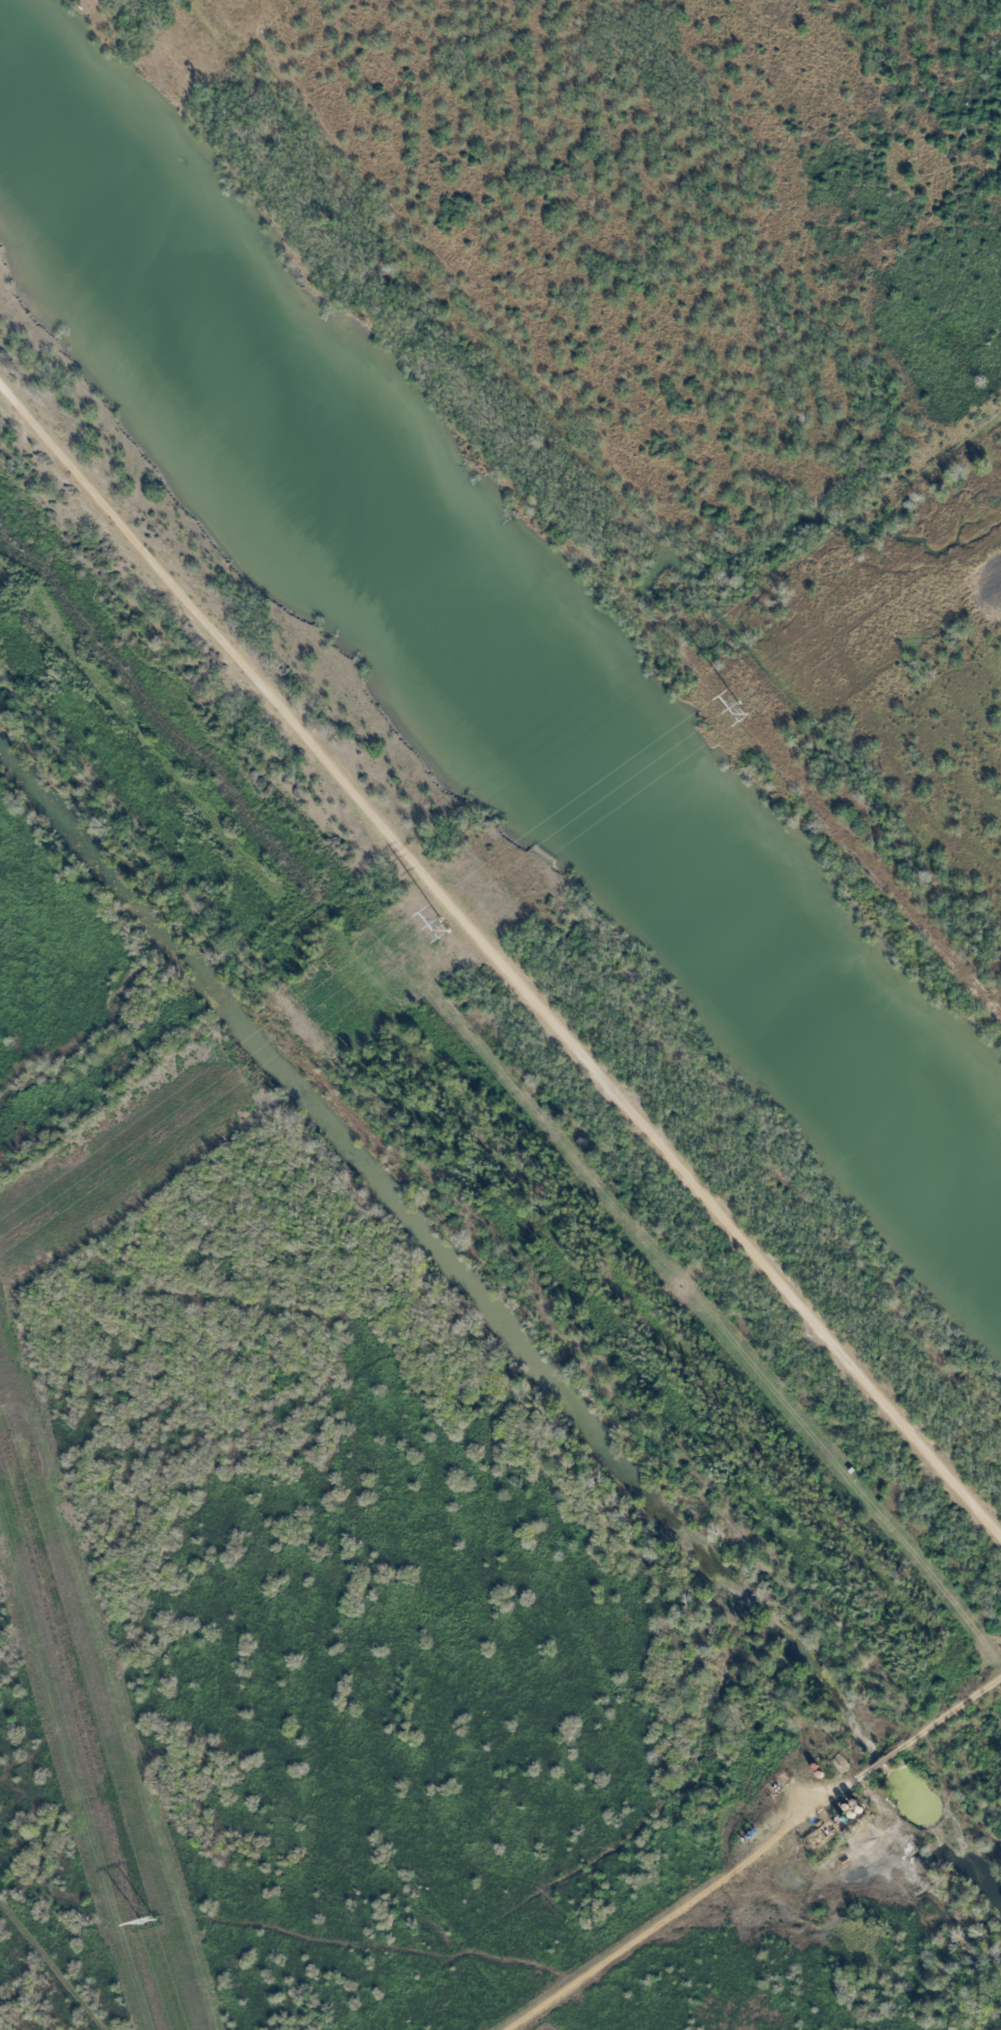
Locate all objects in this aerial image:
power tower: (742, 708)
power tower: (445, 925)
road: (500, 955)
road: (947, 1716)
road: (886, 1760)
road: (691, 1897)
power tower: (149, 1921)

